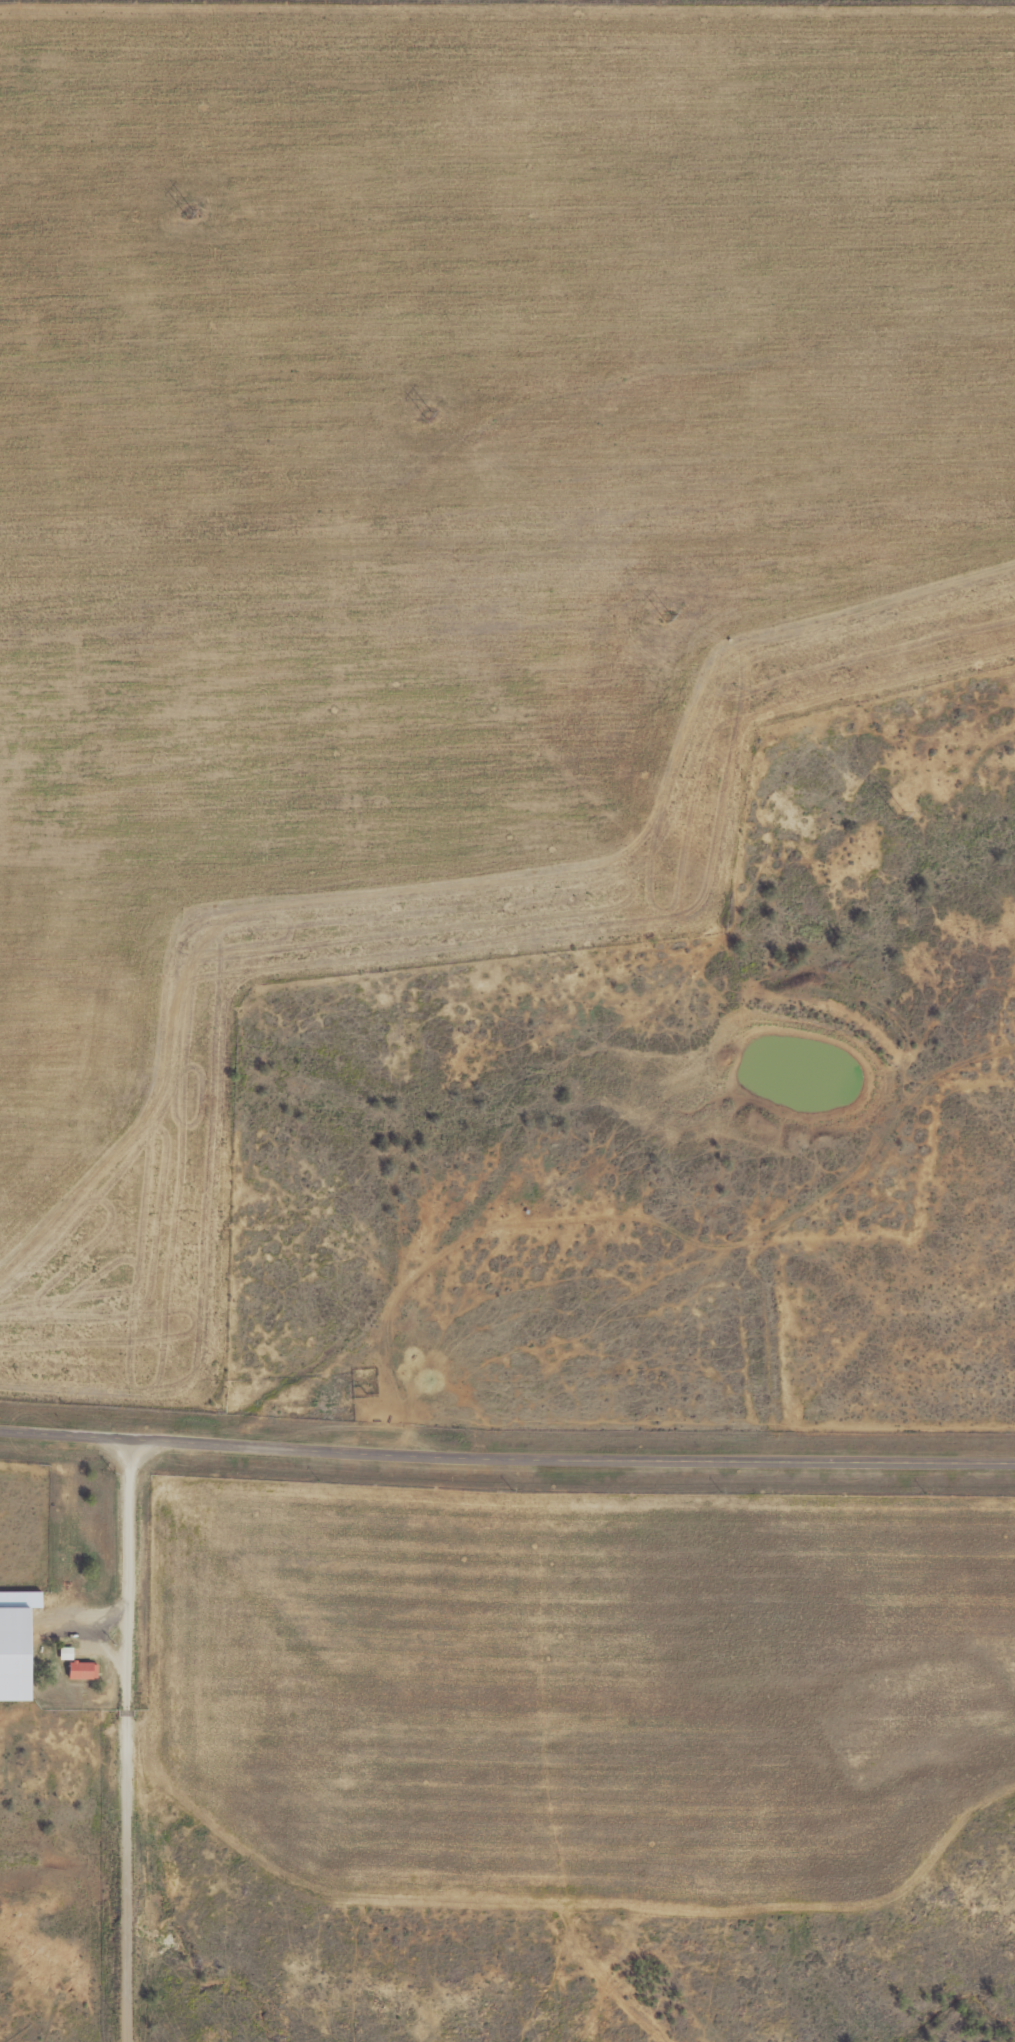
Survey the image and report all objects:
power tower: (189, 213)
power tower: (429, 414)
power tower: (669, 617)
power tower: (901, 815)
road: (507, 1453)
building: (21, 1602)
building: (67, 1655)
building: (83, 1672)
road: (119, 1740)

